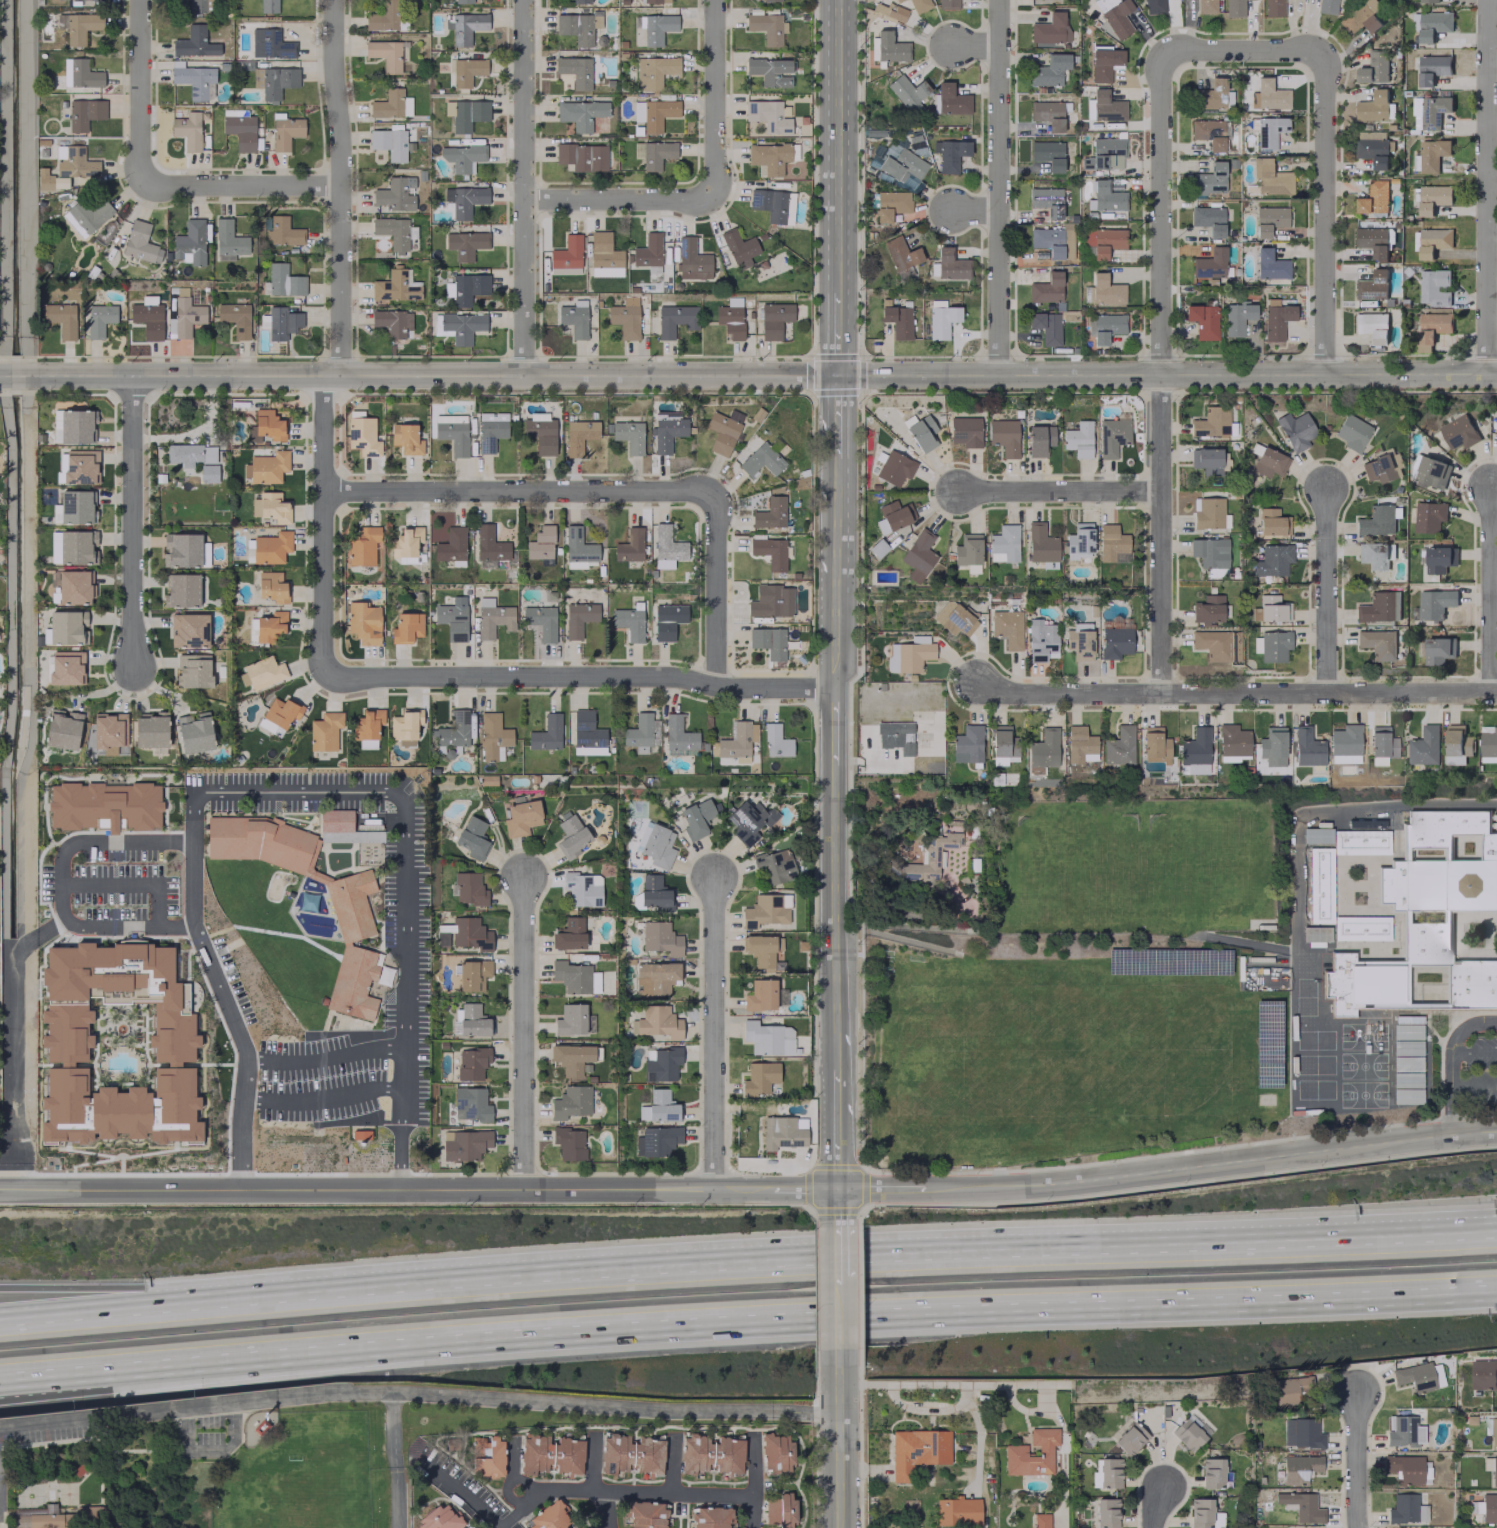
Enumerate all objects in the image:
building: (771, 0)
building: (897, 0)
building: (462, 1)
building: (580, 1)
building: (655, 1)
building: (1428, 1)
building: (947, 4)
building: (918, 5)
building: (200, 6)
building: (268, 6)
building: (1153, 6)
building: (1205, 6)
building: (1326, 6)
building: (1273, 7)
building: (1233, 8)
building: (896, 12)
building: (1115, 15)
building: (383, 16)
building: (1360, 17)
building: (464, 26)
building: (80, 27)
building: (657, 27)
building: (766, 27)
building: (578, 28)
building: (1049, 30)
building: (193, 41)
building: (270, 43)
building: (889, 47)
road: (1245, 51)
building: (385, 53)
building: (1104, 63)
building: (1432, 68)
building: (574, 70)
building: (1049, 70)
building: (1374, 70)
building: (466, 71)
building: (654, 71)
building: (770, 71)
building: (80, 73)
building: (193, 79)
building: (277, 81)
road: (142, 92)
building: (907, 93)
building: (1210, 94)
building: (1268, 95)
road: (713, 96)
building: (951, 99)
building: (391, 104)
building: (1106, 106)
building: (1372, 107)
building: (1429, 111)
building: (84, 113)
building: (580, 113)
building: (654, 113)
building: (468, 114)
building: (1048, 114)
building: (769, 115)
building: (191, 130)
building: (240, 130)
building: (285, 131)
building: (1269, 131)
building: (1208, 133)
building: (389, 143)
road: (833, 145)
building: (1372, 148)
building: (656, 154)
building: (1047, 154)
building: (1104, 154)
building: (1430, 154)
building: (951, 155)
building: (582, 156)
building: (461, 157)
building: (768, 157)
building: (76, 163)
building: (900, 163)
building: (1271, 177)
building: (44, 179)
building: (1209, 179)
road: (245, 187)
road: (521, 187)
road: (1484, 187)
road: (1000, 188)
building: (395, 193)
building: (1106, 196)
building: (1373, 198)
building: (1432, 198)
road: (615, 199)
building: (464, 200)
building: (1046, 200)
building: (891, 204)
building: (772, 205)
road: (1159, 213)
road: (1324, 213)
building: (86, 216)
building: (1208, 219)
building: (1269, 220)
building: (282, 232)
building: (394, 232)
building: (228, 240)
building: (190, 241)
building: (1052, 241)
building: (1103, 241)
building: (140, 242)
building: (1372, 242)
building: (1432, 242)
building: (465, 244)
building: (738, 247)
building: (603, 251)
building: (647, 251)
building: (566, 252)
building: (901, 253)
building: (691, 258)
building: (1210, 263)
building: (950, 264)
building: (1270, 264)
building: (564, 270)
building: (284, 280)
building: (395, 286)
building: (1371, 286)
building: (1434, 287)
building: (465, 288)
building: (1046, 288)
building: (1105, 289)
building: (186, 313)
building: (624, 317)
building: (730, 317)
building: (1237, 317)
building: (235, 318)
building: (574, 318)
building: (941, 318)
building: (60, 319)
building: (99, 319)
building: (147, 319)
building: (674, 319)
building: (773, 319)
building: (1276, 319)
building: (897, 320)
building: (1203, 320)
building: (282, 322)
building: (392, 322)
building: (461, 326)
building: (1046, 326)
building: (1372, 326)
building: (1106, 327)
building: (1431, 328)
road: (833, 333)
road: (336, 337)
road: (748, 376)
road: (833, 419)
building: (1211, 422)
building: (268, 424)
building: (72, 426)
building: (490, 429)
building: (666, 430)
building: (1295, 430)
building: (965, 431)
building: (1352, 432)
building: (1458, 432)
building: (722, 433)
building: (922, 433)
building: (362, 434)
building: (540, 434)
building: (578, 435)
building: (628, 435)
building: (452, 436)
building: (1004, 436)
building: (1112, 436)
building: (405, 438)
building: (1078, 439)
building: (1039, 440)
building: (190, 454)
building: (761, 460)
building: (1209, 460)
building: (1267, 461)
building: (80, 467)
building: (267, 467)
building: (894, 467)
building: (1382, 467)
building: (1431, 472)
building: (208, 473)
road: (1059, 492)
road: (520, 494)
building: (76, 506)
building: (270, 507)
building: (770, 512)
building: (1208, 513)
building: (895, 514)
building: (1429, 516)
building: (1376, 520)
road: (131, 522)
building: (1272, 522)
road: (1161, 532)
building: (406, 541)
building: (1079, 541)
building: (540, 542)
building: (1110, 542)
building: (489, 543)
building: (451, 544)
building: (1003, 544)
building: (629, 545)
building: (73, 546)
building: (362, 546)
building: (270, 547)
building: (666, 547)
building: (577, 548)
building: (181, 549)
building: (967, 549)
building: (769, 551)
building: (1209, 552)
building: (1372, 554)
building: (917, 555)
building: (1439, 559)
building: (1272, 560)
road: (834, 574)
building: (271, 586)
building: (74, 587)
road: (1328, 589)
building: (181, 590)
road: (713, 591)
road: (1492, 592)
building: (771, 601)
building: (1434, 603)
building: (1378, 607)
building: (1272, 608)
building: (1207, 609)
building: (492, 617)
building: (578, 617)
building: (954, 618)
building: (451, 620)
building: (667, 620)
building: (541, 621)
building: (363, 622)
building: (628, 622)
building: (67, 626)
building: (266, 626)
building: (406, 627)
building: (1007, 627)
building: (188, 630)
building: (1041, 640)
building: (768, 641)
building: (1079, 641)
building: (1115, 642)
building: (1377, 643)
building: (1212, 644)
building: (1272, 645)
building: (1438, 650)
building: (907, 656)
building: (66, 667)
building: (193, 670)
building: (263, 672)
road: (580, 675)
road: (1234, 691)
building: (281, 711)
building: (269, 726)
building: (405, 726)
road: (835, 726)
building: (367, 727)
building: (62, 728)
building: (151, 729)
building: (453, 729)
building: (324, 731)
building: (108, 732)
building: (194, 732)
building: (546, 733)
building: (586, 733)
building: (638, 733)
building: (895, 735)
building: (493, 736)
building: (677, 736)
building: (737, 741)
building: (775, 741)
building: (1232, 743)
building: (967, 744)
building: (1344, 744)
building: (1457, 744)
building: (1488, 744)
building: (1002, 745)
building: (1079, 745)
building: (1154, 745)
building: (1380, 745)
building: (1118, 746)
building: (1272, 746)
building: (1425, 746)
building: (1306, 747)
building: (1043, 748)
building: (1194, 751)
building: (103, 805)
road: (1344, 810)
building: (521, 817)
building: (696, 817)
building: (748, 821)
building: (339, 824)
building: (570, 834)
building: (1316, 835)
building: (472, 837)
building: (1362, 842)
building: (262, 844)
building: (655, 845)
road: (192, 858)
building: (925, 859)
building: (774, 865)
park: (1134, 866)
road: (129, 884)
road: (62, 885)
building: (1321, 885)
building: (469, 888)
building: (582, 888)
building: (654, 892)
parking lot: (404, 908)
building: (355, 909)
building: (766, 910)
road: (837, 916)
building: (1431, 921)
building: (1362, 928)
building: (467, 933)
building: (569, 933)
building: (1316, 933)
building: (660, 937)
building: (761, 949)
park: (1259, 970)
building: (472, 974)
building: (574, 977)
building: (654, 978)
building: (356, 990)
building: (760, 995)
building: (471, 1019)
building: (570, 1019)
building: (657, 1022)
road: (405, 1024)
road: (523, 1032)
road: (715, 1035)
building: (767, 1038)
road: (17, 1040)
building: (66, 1042)
park: (1313, 1047)
park: (1062, 1050)
road: (1474, 1052)
building: (570, 1058)
road: (1450, 1061)
building: (472, 1062)
building: (661, 1063)
park: (1376, 1065)
parking lot: (1471, 1066)
building: (759, 1077)
road: (1473, 1085)
building: (570, 1102)
building: (471, 1104)
building: (658, 1106)
road: (839, 1130)
building: (783, 1131)
building: (656, 1140)
building: (568, 1142)
building: (464, 1144)
road: (749, 1192)
road: (840, 1206)
road: (1482, 1230)
road: (1482, 1232)
road: (867, 1257)
road: (134, 1286)
road: (1460, 1288)
road: (840, 1289)
road: (1460, 1293)
road: (134, 1303)
road: (832, 1317)
road: (121, 1363)
road: (839, 1372)
road: (121, 1374)
building: (1483, 1374)
building: (1415, 1376)
road: (953, 1385)
building: (1290, 1390)
road: (419, 1399)
building: (1403, 1430)
building: (1493, 1431)
building: (1189, 1433)
building: (1302, 1433)
road: (978, 1437)
building: (1130, 1438)
building: (1014, 1450)
building: (775, 1451)
building: (917, 1451)
building: (711, 1453)
building: (551, 1454)
building: (631, 1454)
building: (487, 1456)
road: (839, 1457)
road: (595, 1459)
road: (512, 1461)
road: (397, 1463)
road: (674, 1463)
road: (1357, 1463)
building: (1299, 1468)
building: (1493, 1471)
building: (1214, 1472)
building: (1107, 1473)
road: (755, 1481)
road: (453, 1486)
road: (611, 1490)
road: (1153, 1506)
building: (1302, 1506)
road: (606, 1509)
building: (779, 1509)
building: (1406, 1509)
building: (957, 1511)
building: (1106, 1513)
building: (1204, 1514)
building: (550, 1516)
building: (711, 1517)
building: (42, 1518)
building: (441, 1519)
building: (1041, 1520)

